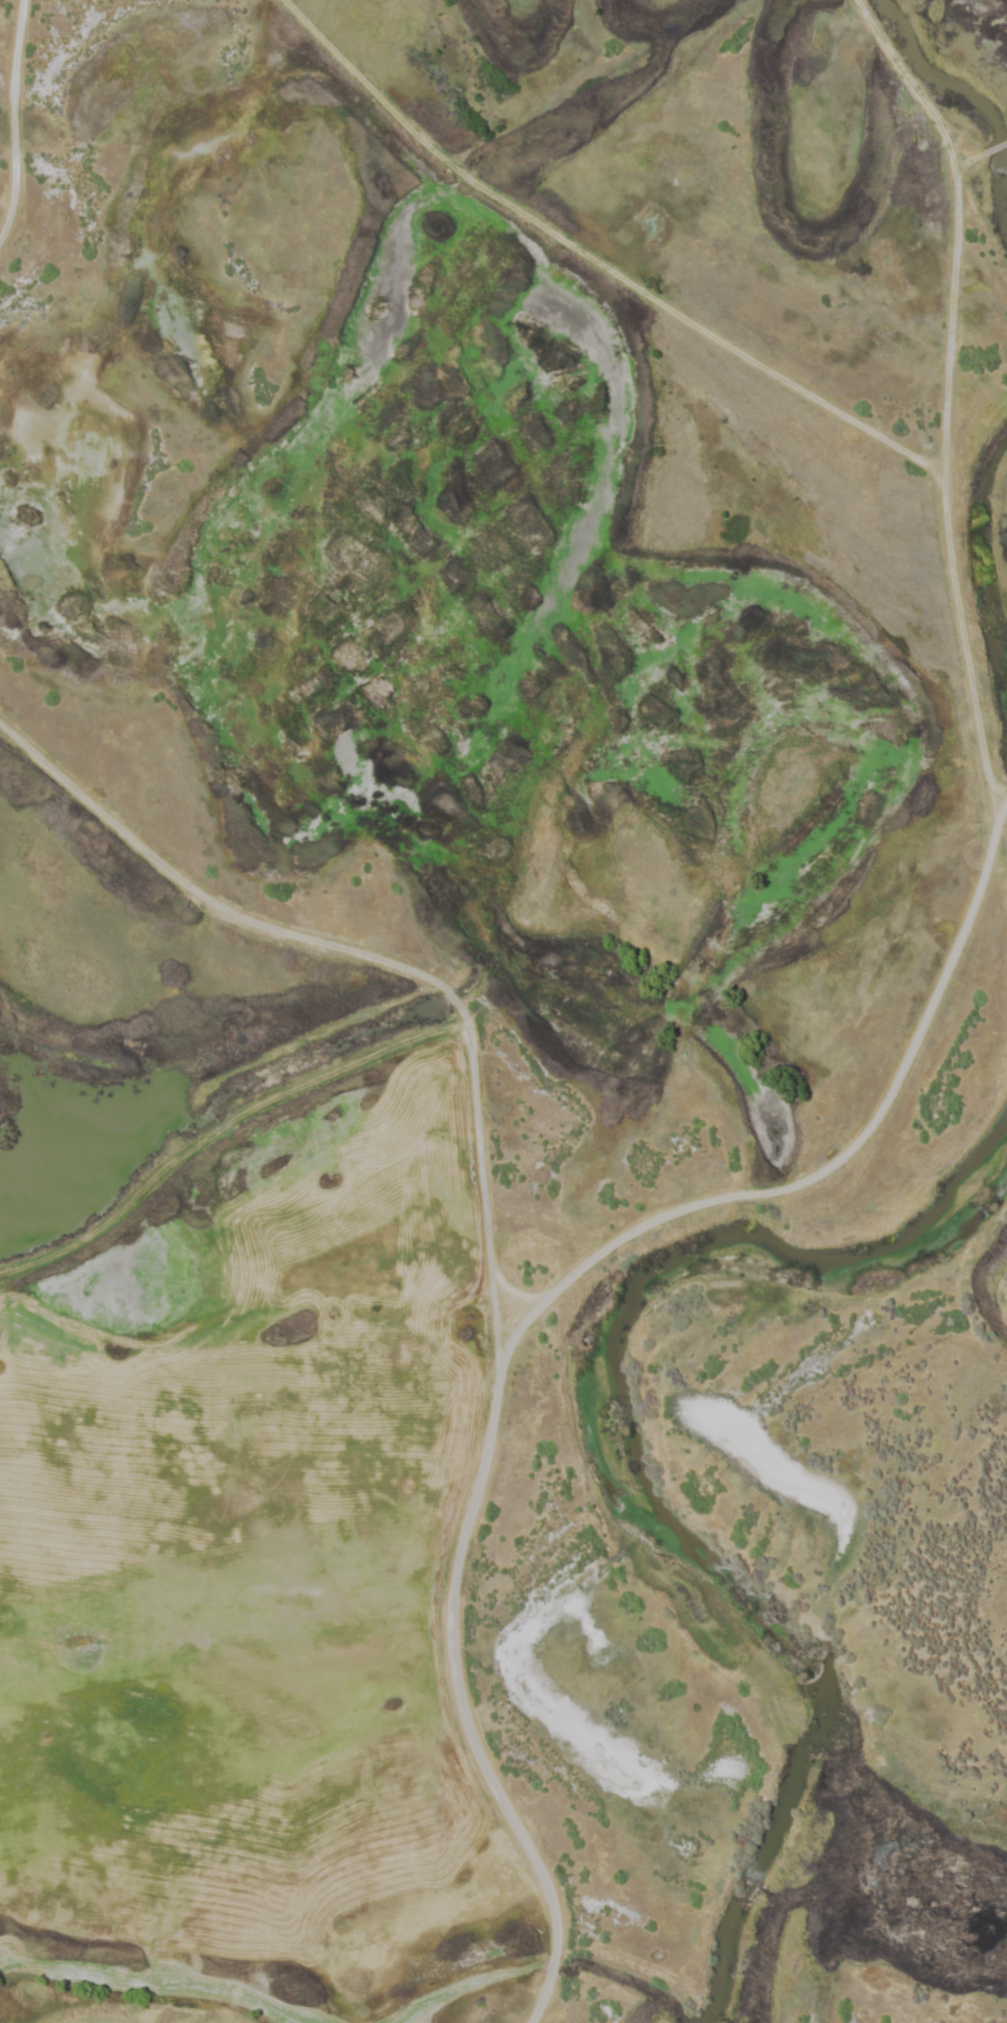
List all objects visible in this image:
road: (11, 79)
road: (1004, 141)
road: (992, 147)
road: (590, 264)
road: (930, 474)
road: (1003, 801)
road: (376, 962)
road: (525, 1314)

